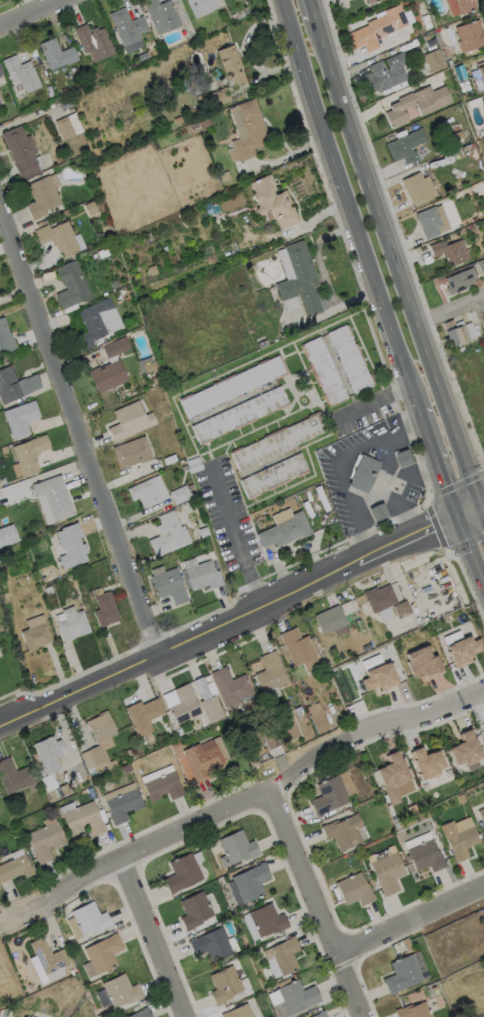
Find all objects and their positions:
building: (237, 0)
building: (371, 1)
building: (464, 6)
building: (201, 7)
road: (312, 8)
road: (30, 13)
building: (161, 16)
building: (462, 17)
building: (387, 20)
building: (128, 30)
building: (470, 36)
building: (426, 38)
building: (363, 39)
building: (94, 41)
building: (431, 43)
building: (408, 46)
building: (57, 54)
building: (35, 57)
building: (142, 57)
building: (434, 61)
building: (449, 62)
building: (232, 65)
building: (1, 71)
building: (457, 72)
building: (23, 74)
building: (385, 74)
building: (95, 75)
building: (216, 75)
building: (481, 75)
building: (465, 87)
building: (50, 92)
building: (217, 98)
building: (66, 100)
building: (417, 105)
building: (483, 107)
building: (483, 118)
building: (204, 124)
building: (194, 126)
building: (69, 127)
building: (247, 131)
building: (457, 137)
building: (406, 147)
building: (21, 153)
building: (451, 154)
building: (224, 176)
building: (418, 188)
building: (43, 196)
building: (273, 203)
road: (346, 206)
building: (90, 209)
building: (482, 212)
building: (429, 222)
building: (473, 226)
building: (148, 235)
building: (59, 238)
building: (165, 248)
building: (449, 250)
building: (102, 255)
road: (395, 262)
building: (480, 264)
building: (152, 271)
building: (300, 279)
building: (458, 279)
building: (114, 284)
building: (71, 285)
road: (450, 309)
building: (96, 323)
building: (458, 332)
building: (5, 338)
building: (263, 344)
building: (116, 348)
building: (350, 359)
building: (149, 368)
building: (325, 371)
building: (108, 376)
building: (15, 385)
building: (234, 386)
road: (373, 397)
building: (240, 415)
building: (21, 419)
building: (128, 420)
road: (79, 435)
building: (279, 442)
building: (132, 453)
building: (30, 455)
building: (403, 458)
building: (169, 460)
road: (329, 462)
road: (437, 464)
building: (194, 465)
building: (364, 474)
building: (274, 475)
building: (148, 492)
building: (180, 495)
building: (55, 497)
building: (378, 512)
traffic signals: (457, 518)
building: (203, 532)
building: (285, 532)
building: (168, 535)
road: (237, 536)
building: (2, 541)
building: (71, 546)
road: (469, 551)
building: (203, 576)
building: (169, 586)
building: (48, 591)
building: (380, 598)
building: (105, 609)
building: (402, 610)
road: (241, 617)
building: (332, 621)
building: (72, 624)
building: (36, 637)
building: (297, 647)
building: (464, 651)
building: (0, 655)
building: (423, 664)
building: (271, 673)
building: (380, 677)
building: (231, 687)
building: (211, 688)
building: (181, 703)
building: (208, 703)
building: (299, 712)
building: (143, 716)
building: (318, 719)
building: (483, 726)
building: (101, 727)
road: (372, 729)
building: (270, 740)
building: (466, 749)
building: (49, 755)
building: (93, 758)
building: (200, 762)
building: (427, 763)
building: (112, 766)
building: (126, 769)
building: (393, 776)
building: (13, 777)
building: (44, 779)
building: (164, 787)
building: (64, 790)
building: (54, 795)
building: (329, 796)
building: (124, 806)
building: (481, 815)
building: (84, 820)
building: (394, 821)
road: (180, 831)
building: (344, 833)
building: (46, 842)
building: (462, 843)
building: (198, 846)
building: (237, 849)
building: (425, 857)
building: (15, 869)
building: (388, 873)
building: (182, 874)
building: (251, 882)
building: (0, 888)
building: (355, 890)
road: (44, 898)
road: (318, 902)
building: (195, 910)
building: (90, 919)
building: (268, 920)
road: (412, 921)
road: (156, 937)
building: (212, 945)
building: (104, 953)
building: (283, 955)
building: (48, 957)
building: (223, 961)
building: (292, 974)
building: (403, 975)
building: (73, 983)
building: (225, 985)
building: (122, 991)
building: (297, 997)
building: (414, 1011)
building: (239, 1012)
building: (142, 1013)
building: (318, 1014)
building: (103, 1015)
building: (23, 1016)

